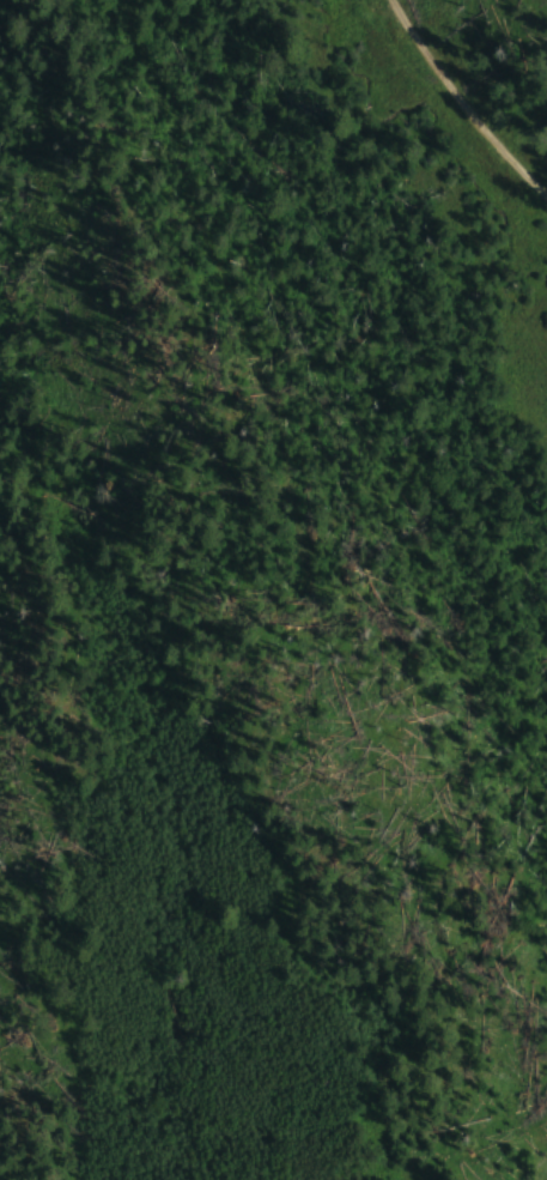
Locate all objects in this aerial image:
road: (467, 101)

